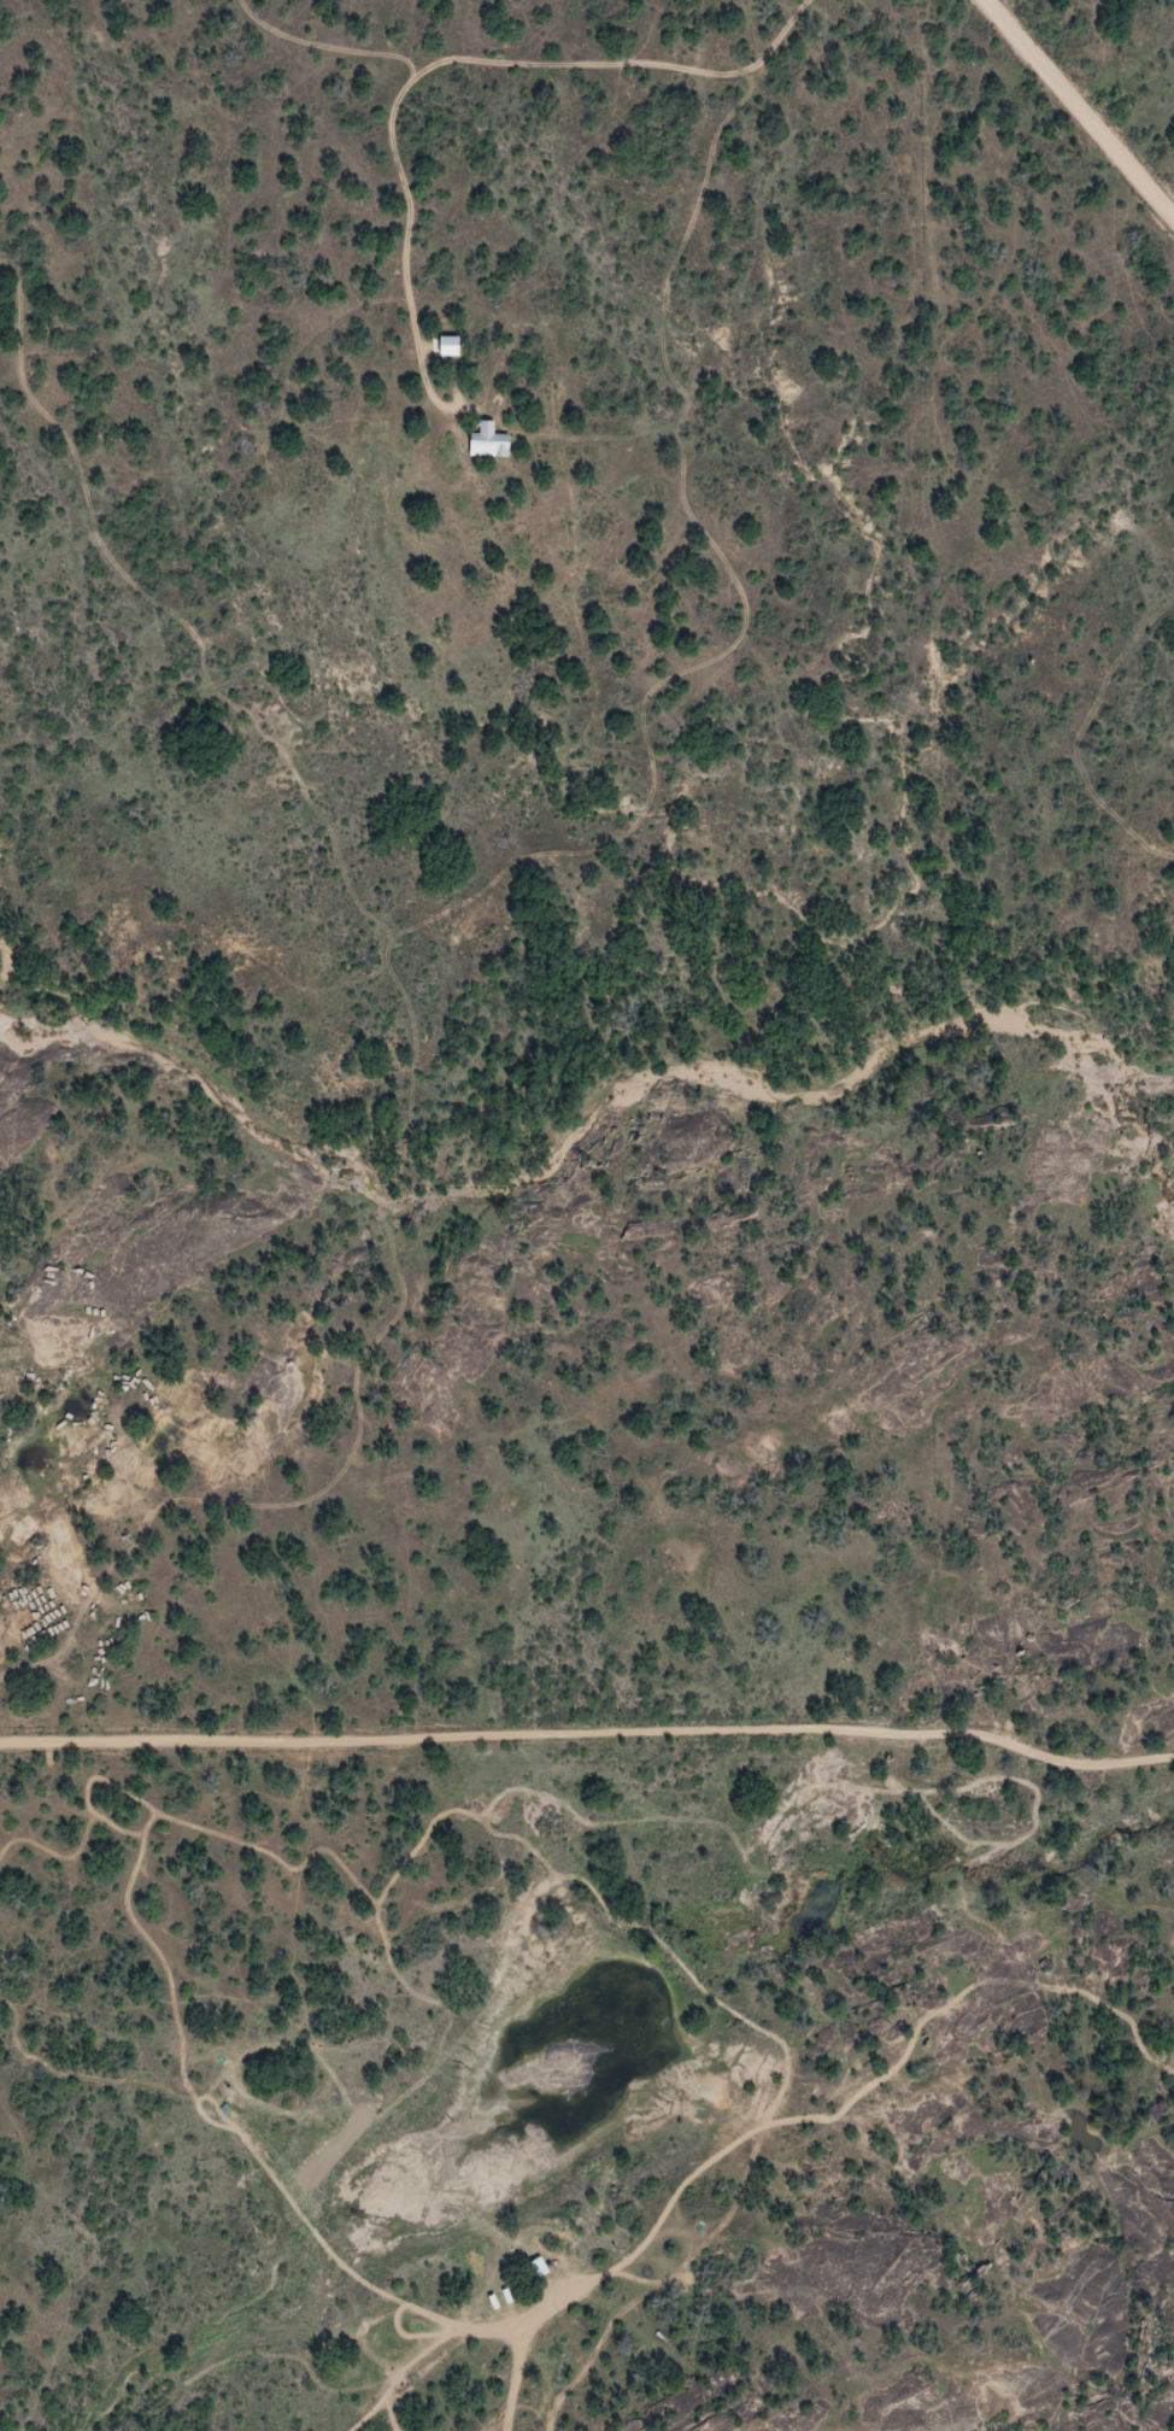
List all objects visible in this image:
road: (1080, 109)
building: (488, 443)
quarry: (82, 1475)
road: (589, 1734)

